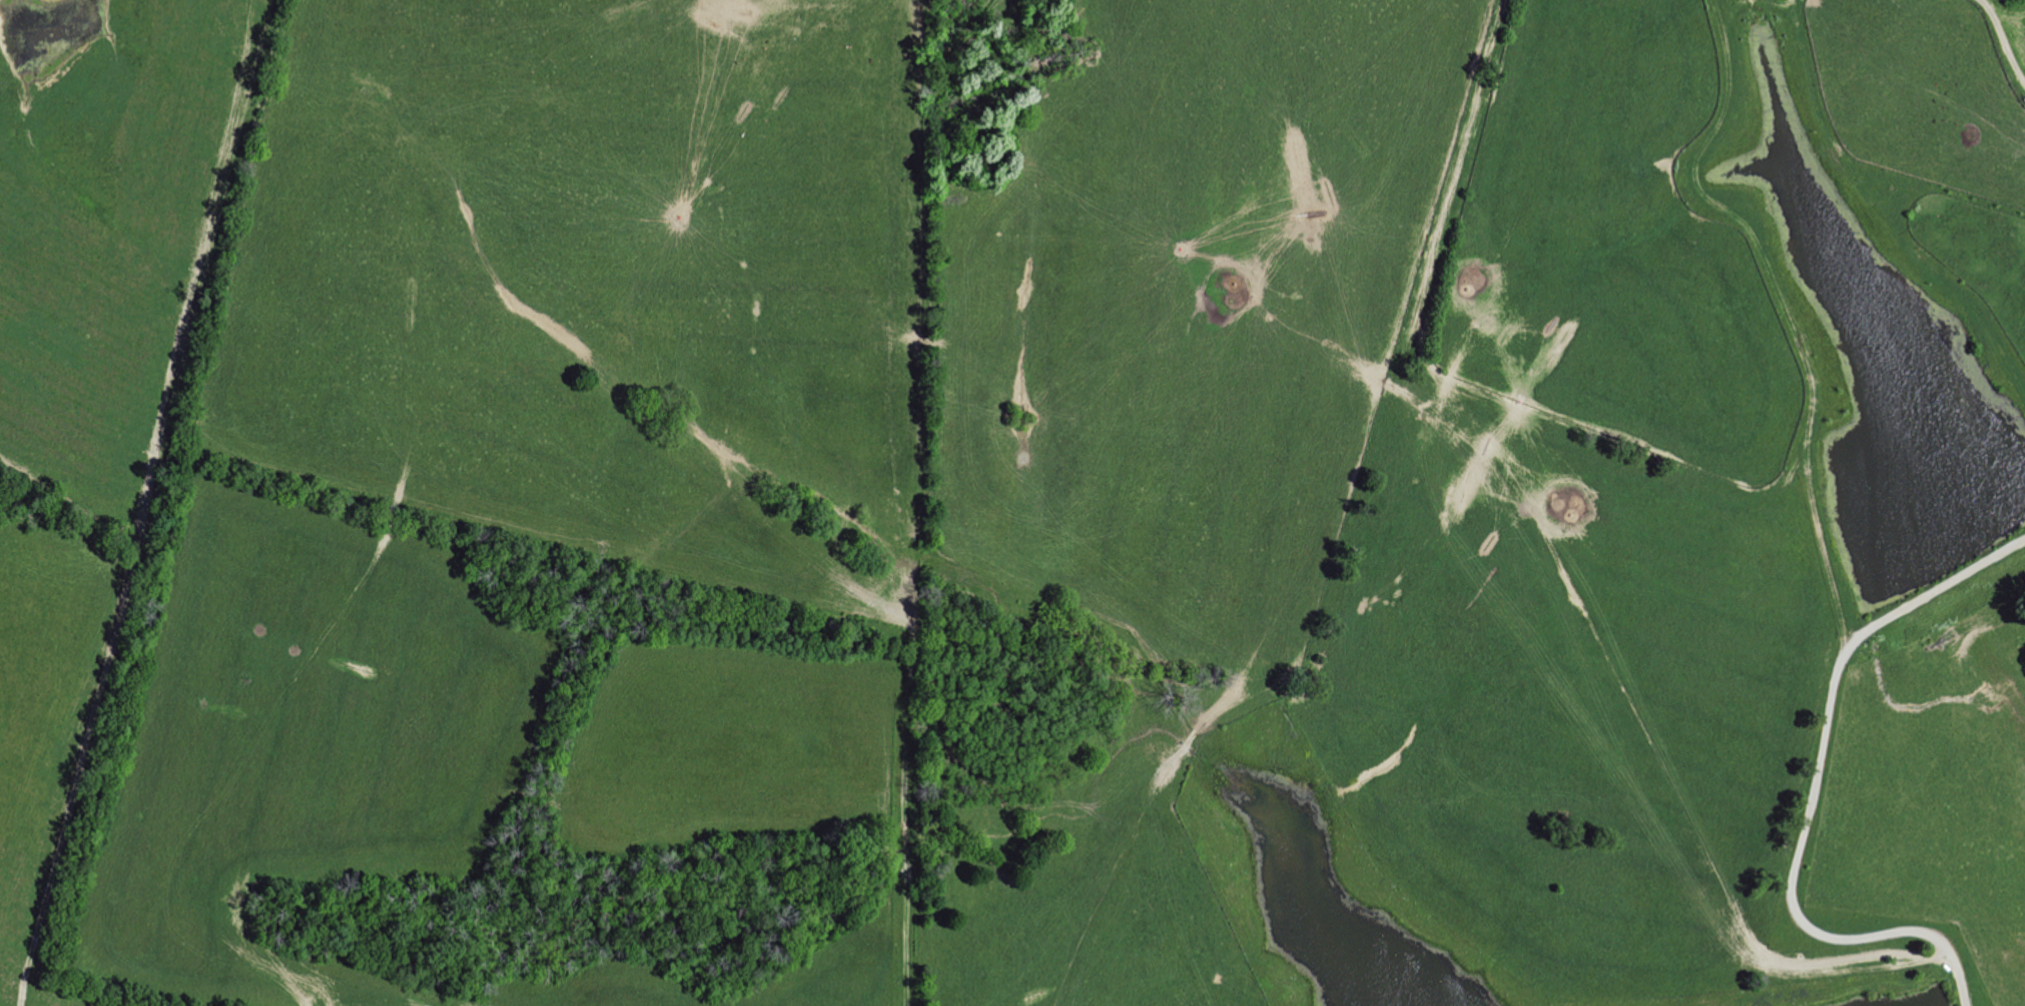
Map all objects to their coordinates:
road: (29, 952)

